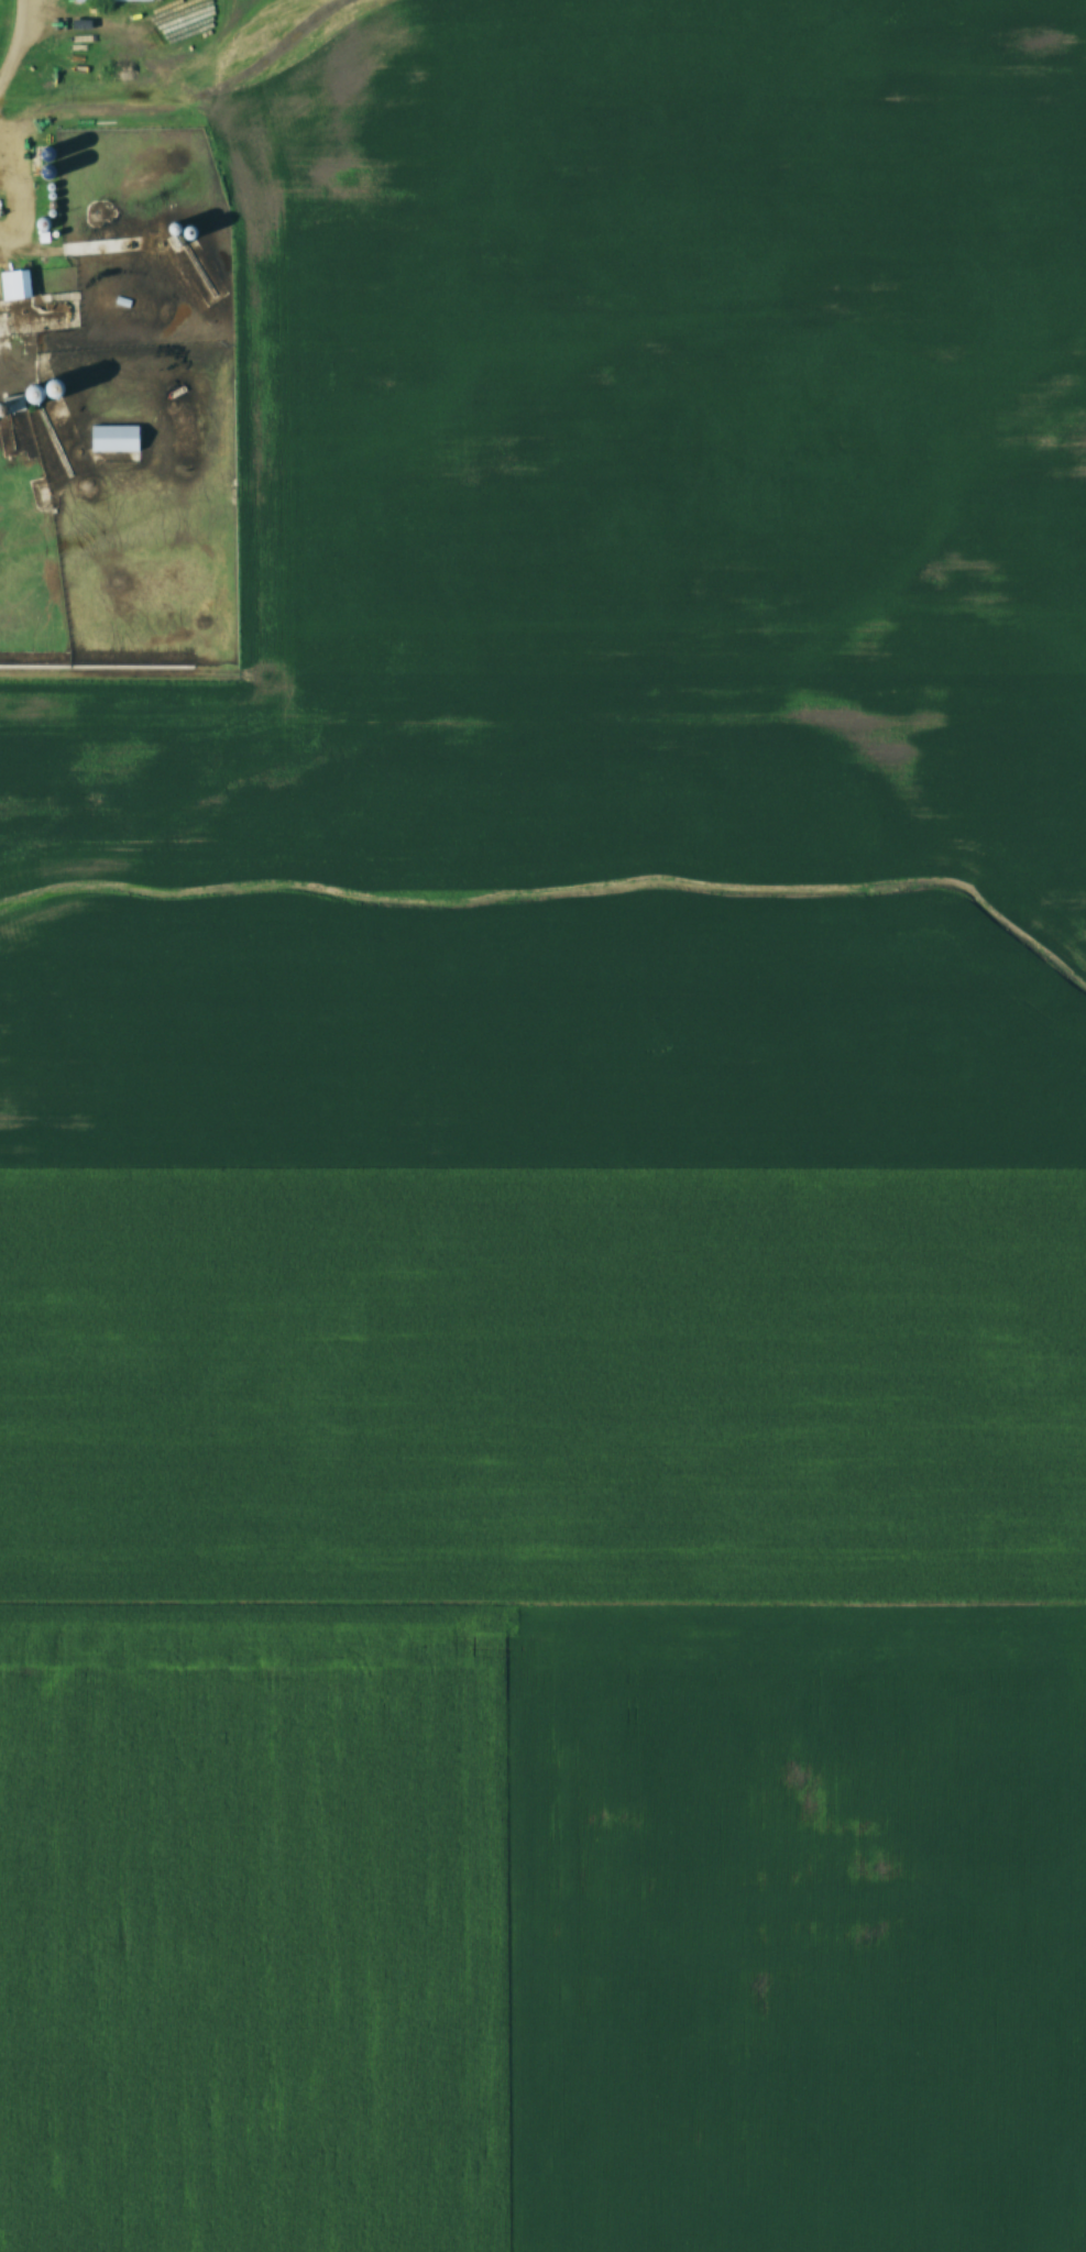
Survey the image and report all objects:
building: (111, 1)
road: (15, 41)
building: (15, 286)
building: (30, 397)
building: (113, 439)

